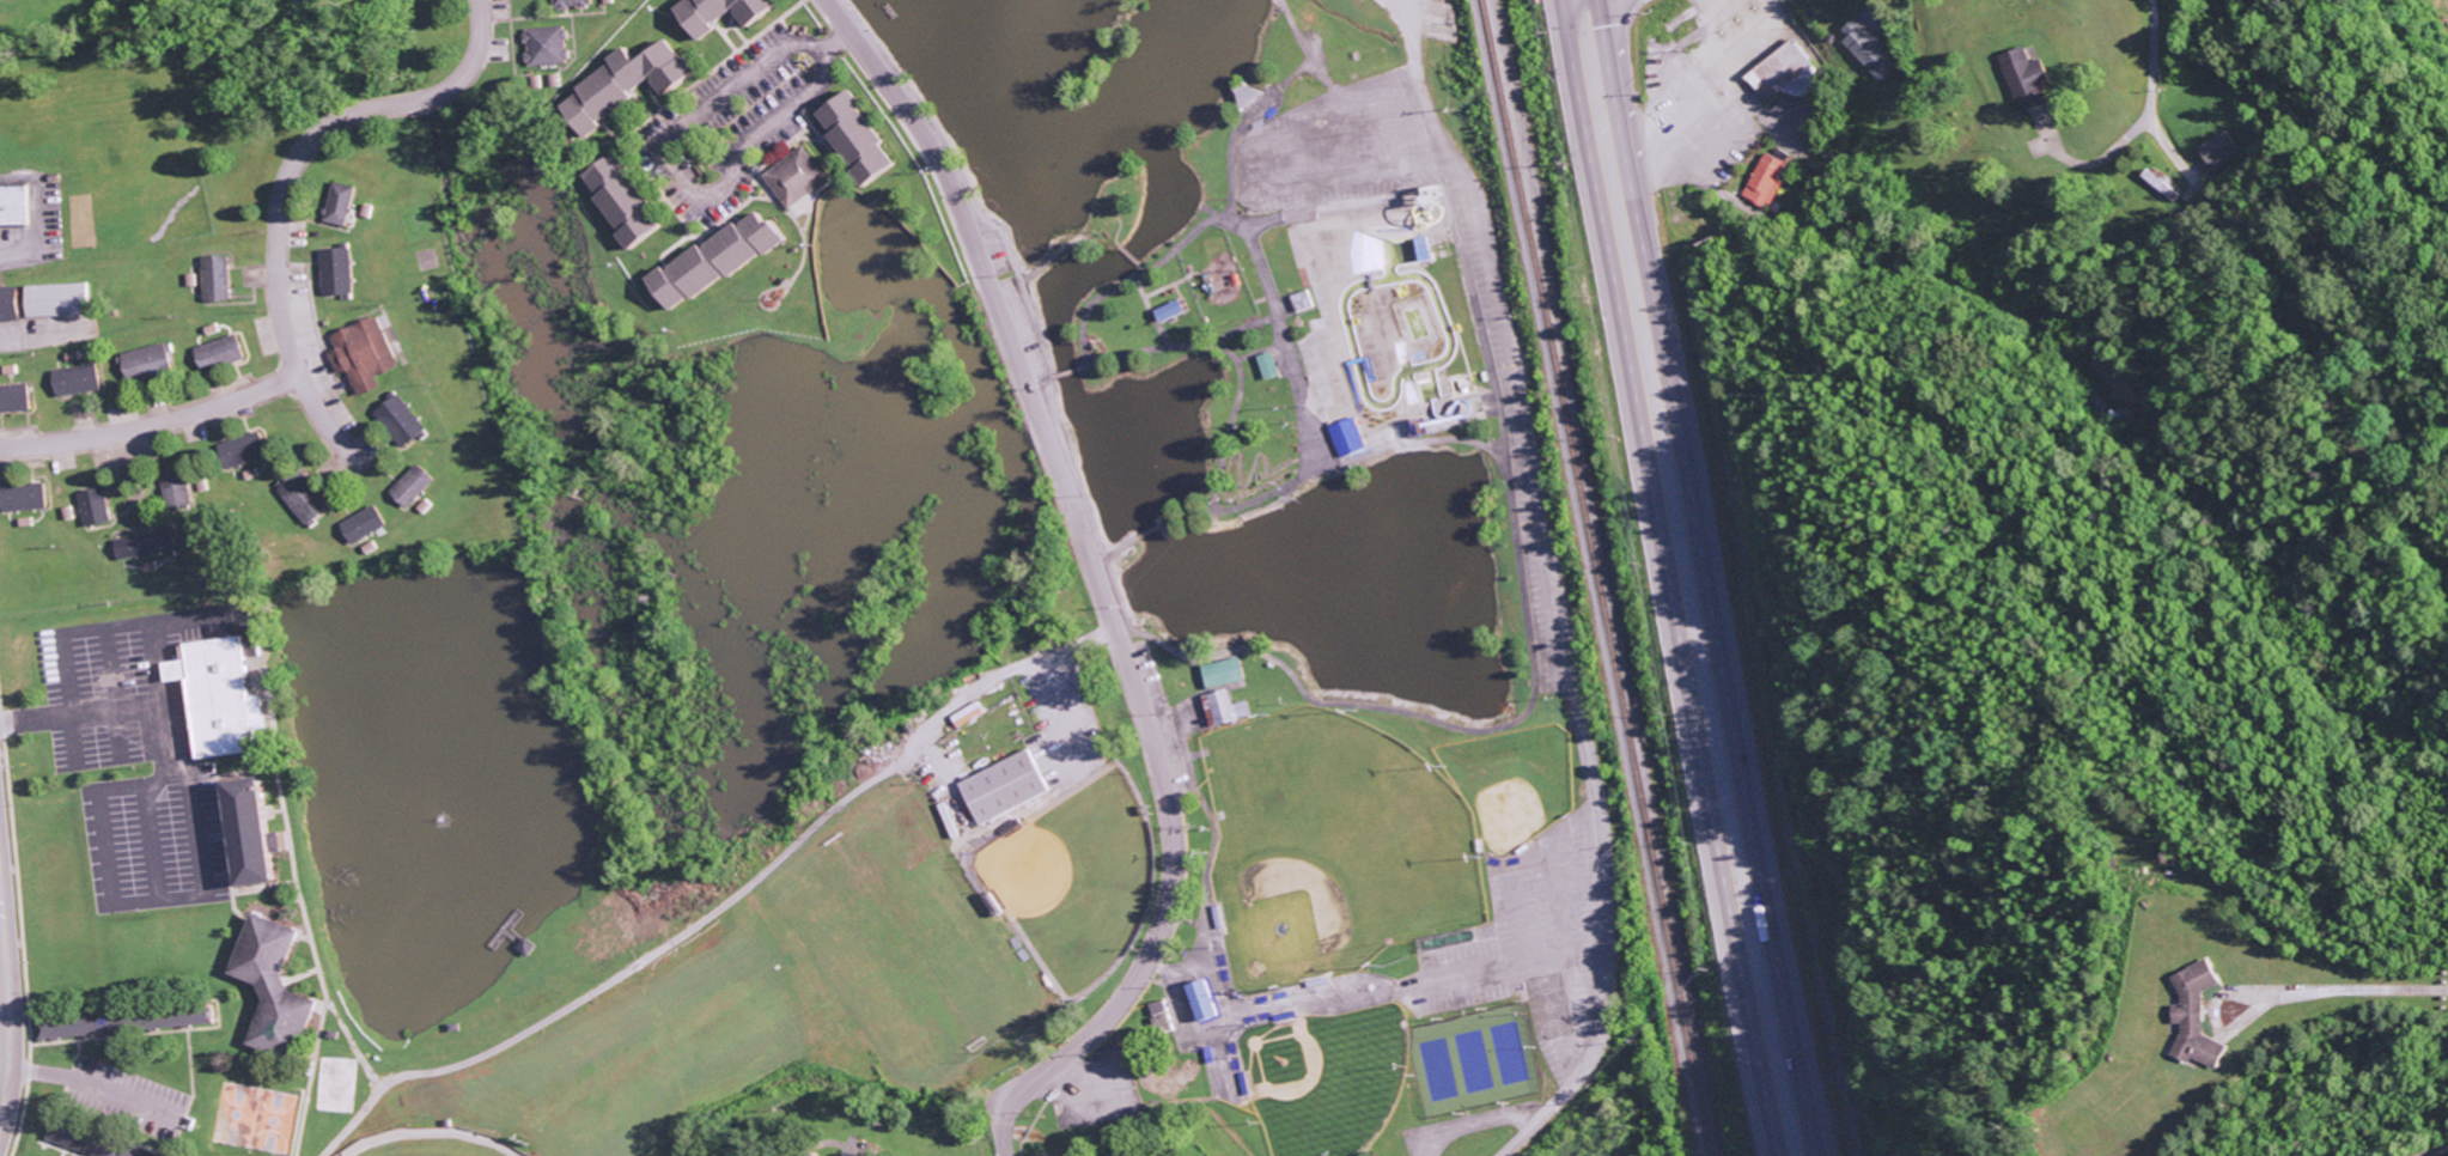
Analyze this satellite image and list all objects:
building: (1803, 0)
building: (573, 4)
building: (726, 13)
building: (547, 45)
building: (1867, 50)
building: (1780, 73)
building: (638, 78)
building: (2022, 78)
road: (2150, 89)
building: (861, 140)
road: (310, 144)
building: (2217, 148)
road: (1687, 175)
building: (797, 177)
road: (1613, 177)
building: (1764, 180)
building: (628, 203)
building: (341, 205)
building: (16, 206)
building: (1421, 249)
building: (720, 258)
building: (339, 272)
building: (218, 279)
building: (60, 299)
building: (12, 304)
building: (1173, 310)
building: (223, 353)
building: (366, 354)
building: (150, 363)
building: (1268, 365)
building: (79, 381)
road: (323, 418)
building: (403, 421)
road: (148, 426)
building: (1348, 437)
building: (239, 452)
building: (416, 486)
building: (178, 491)
building: (25, 497)
building: (307, 499)
building: (95, 507)
building: (367, 524)
building: (139, 546)
park: (1272, 547)
railway: (1593, 577)
road: (1663, 578)
road: (1705, 578)
road: (1095, 582)
building: (1225, 673)
building: (223, 696)
road: (1575, 701)
building: (1225, 708)
building: (1006, 787)
building: (260, 833)
building: (278, 987)
building: (1194, 999)
building: (1155, 1016)
building: (2190, 1016)
building: (73, 1027)
building: (97, 1143)
road: (2435, 1151)
building: (802, 1154)
building: (919, 1155)

